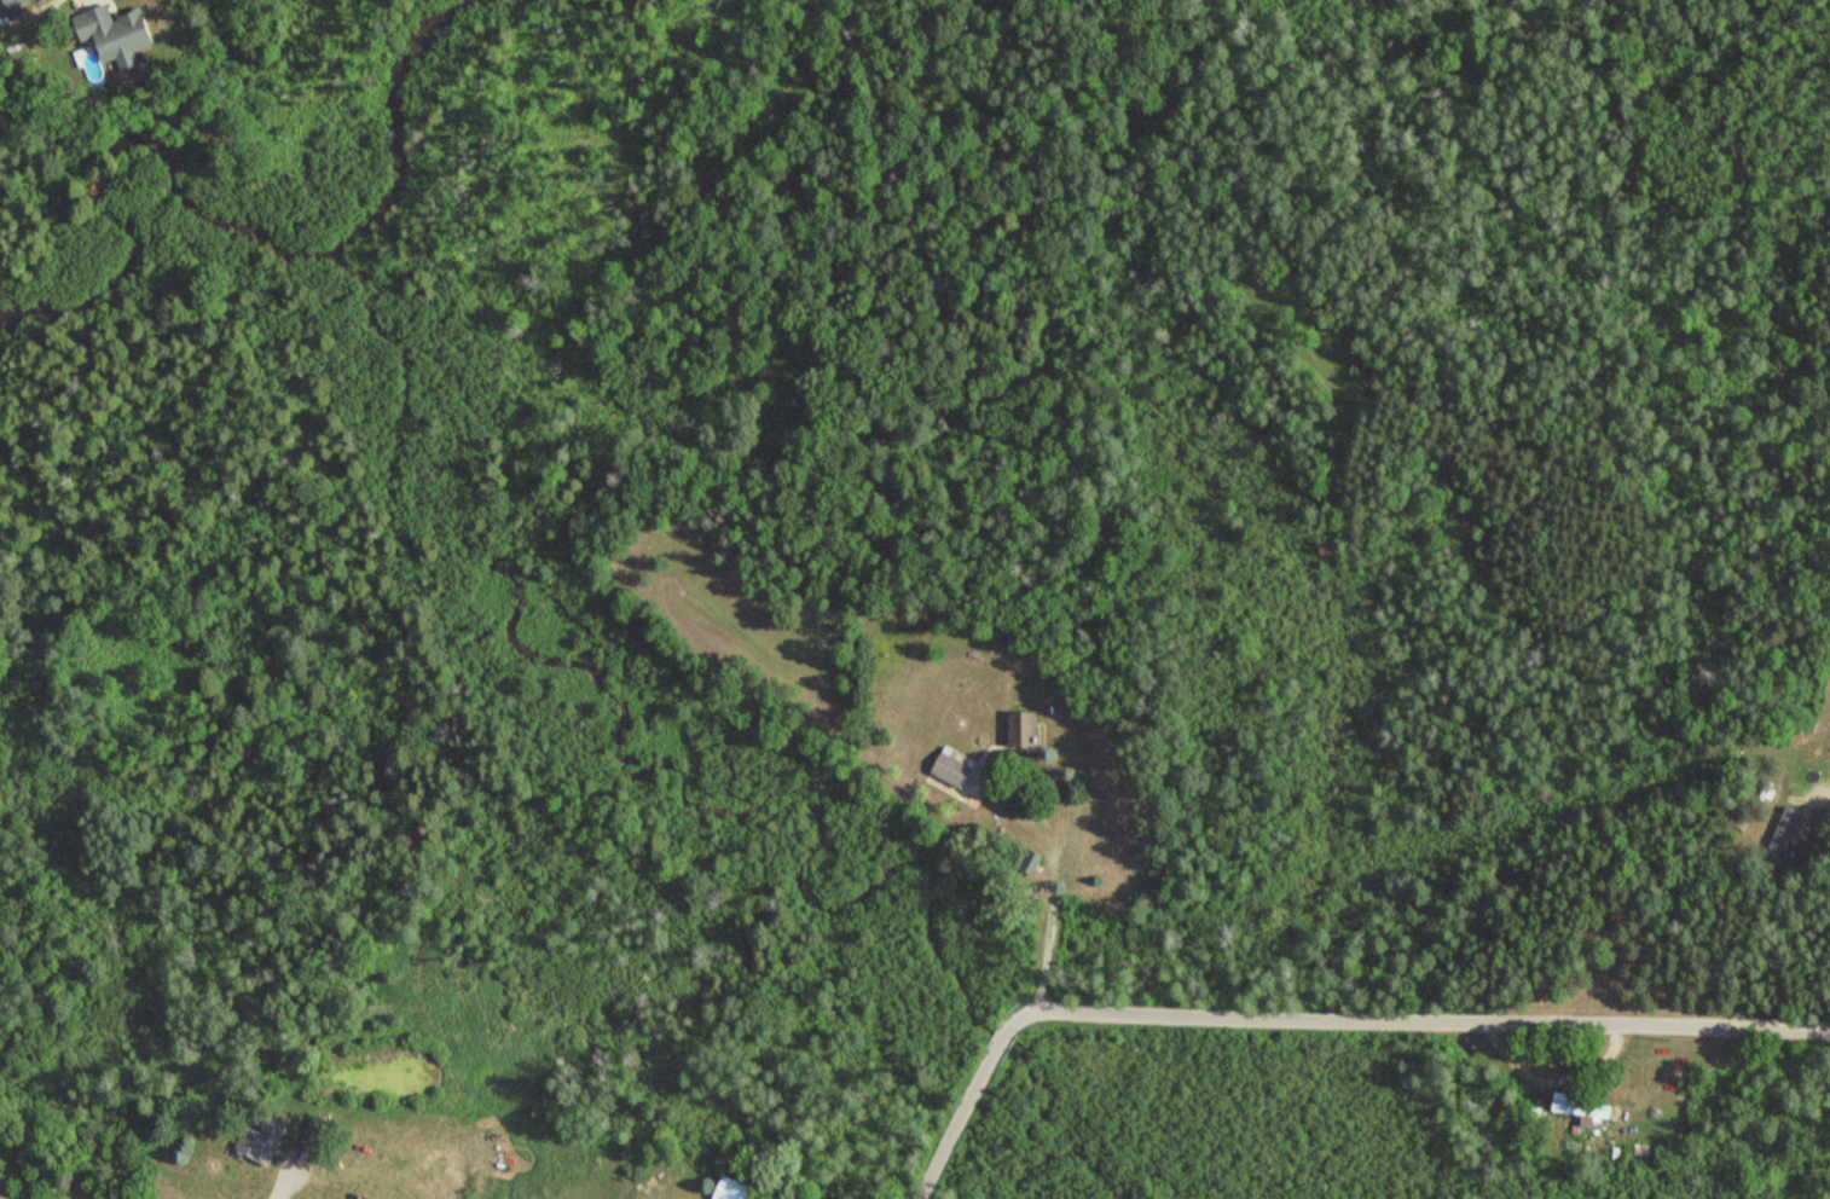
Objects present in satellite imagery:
building: (16, 2)
building: (120, 33)
river: (227, 214)
building: (1026, 730)
building: (955, 768)
building: (1782, 829)
road: (1321, 1023)
building: (1581, 1106)
building: (318, 1129)
building: (265, 1141)
road: (282, 1186)
building: (736, 1191)

